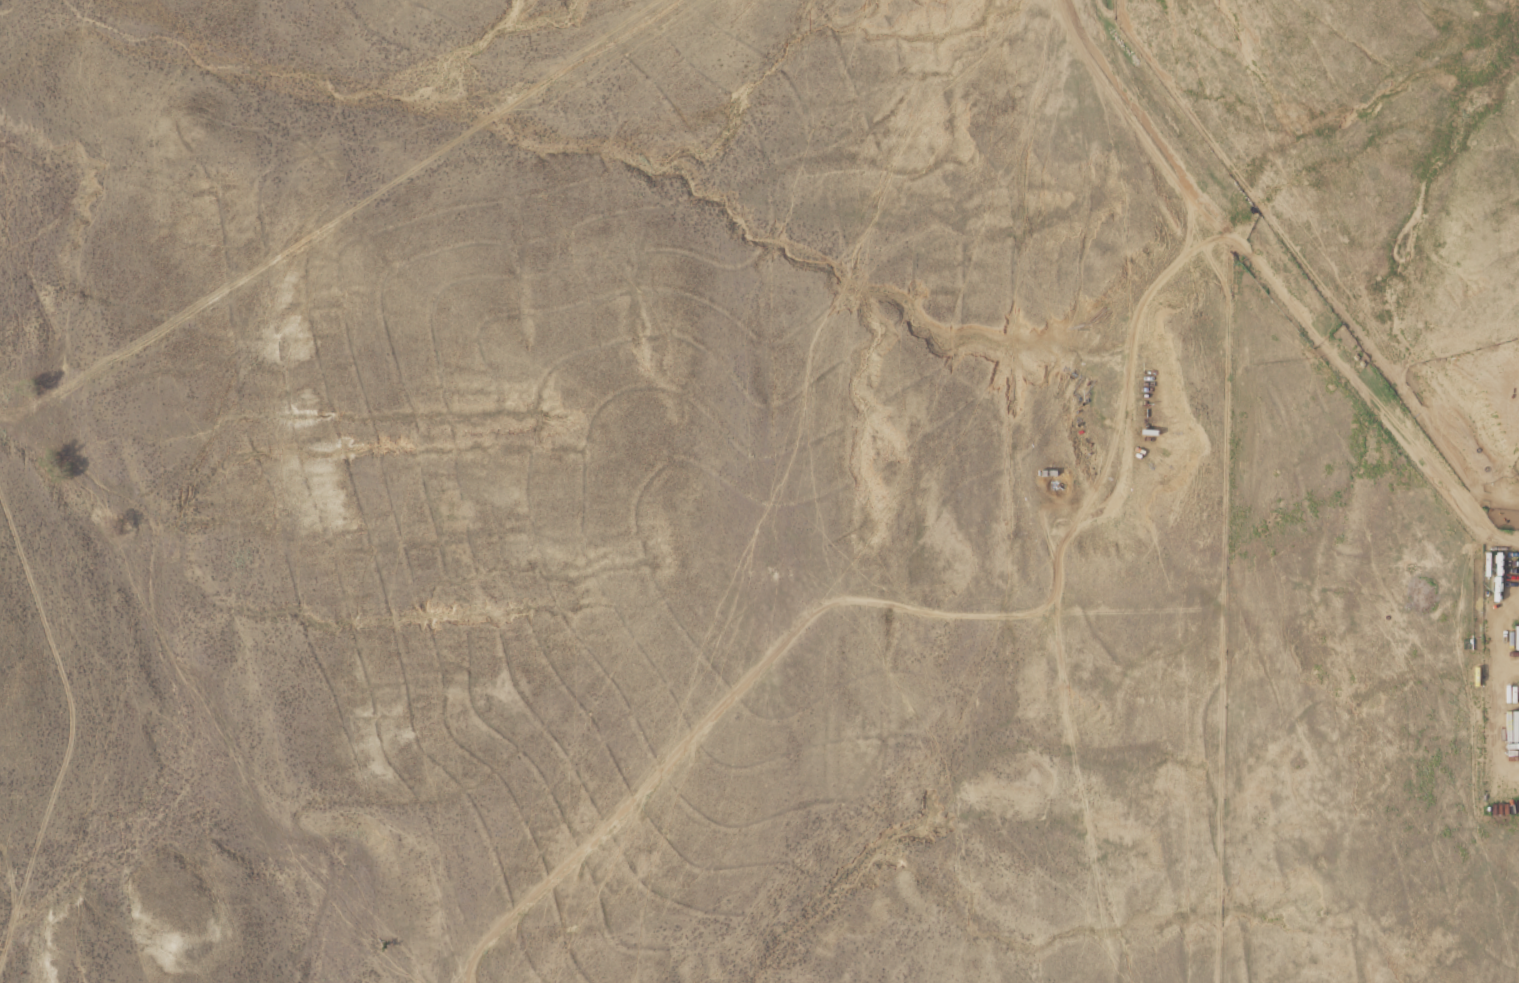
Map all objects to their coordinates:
building: (1499, 586)
building: (1513, 726)

